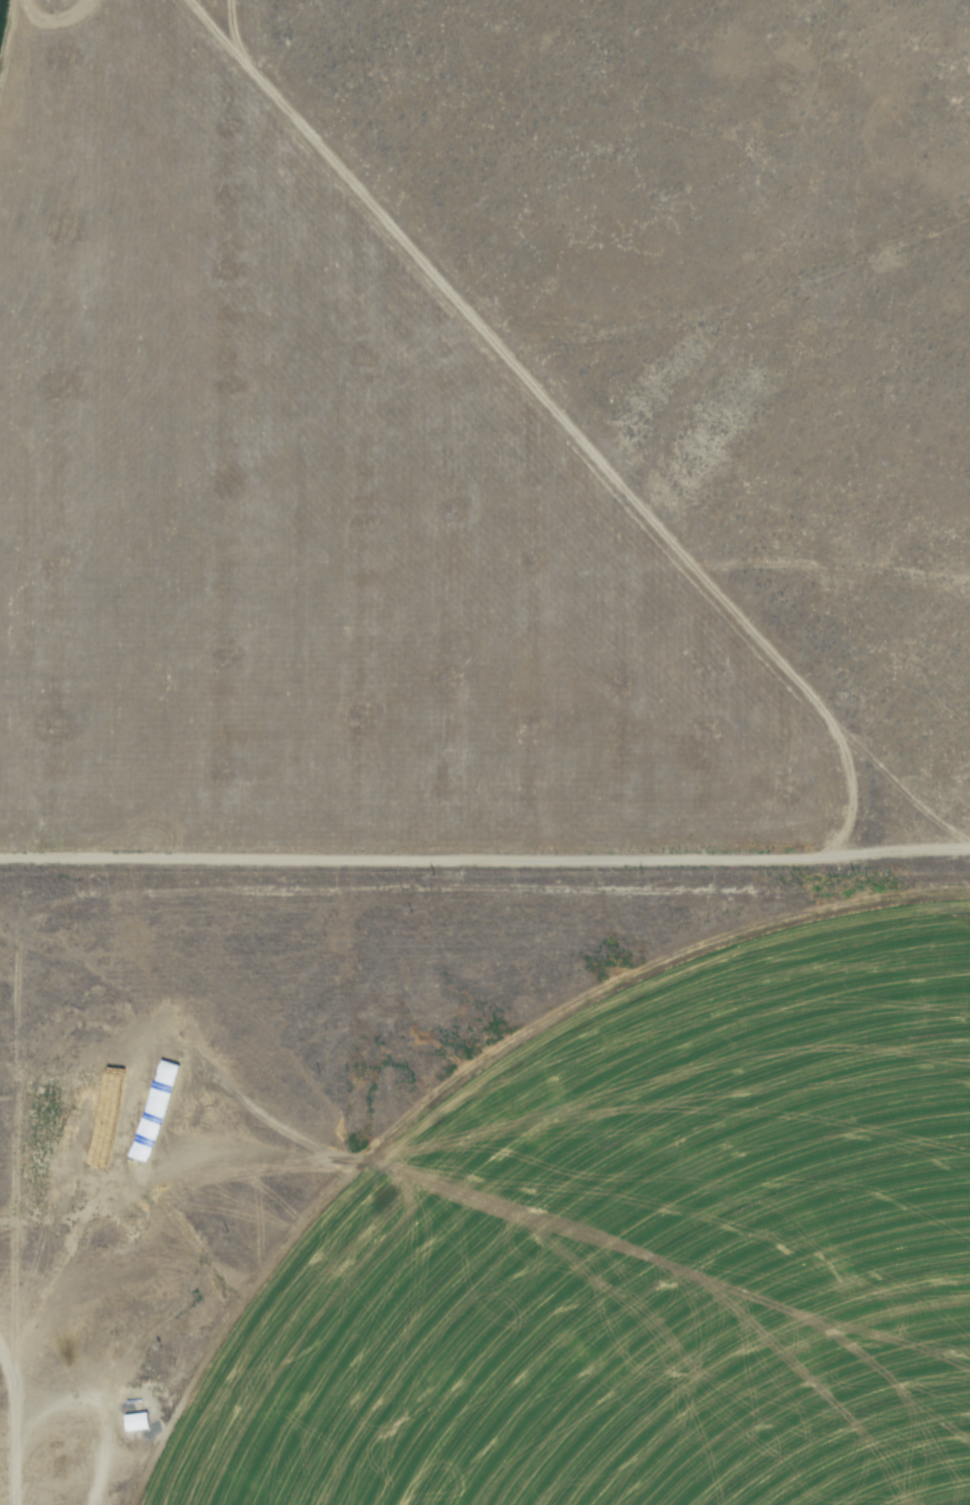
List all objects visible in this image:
crop: (655, 1273)

